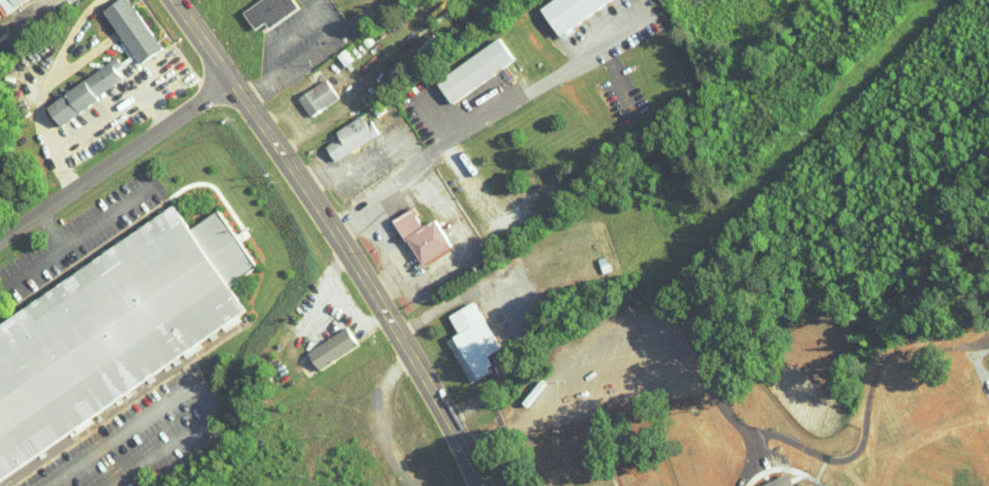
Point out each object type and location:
building: (9, 4)
building: (268, 12)
building: (567, 12)
building: (131, 30)
road: (313, 55)
building: (473, 71)
road: (549, 82)
road: (46, 91)
building: (84, 92)
building: (316, 98)
building: (349, 138)
road: (115, 163)
road: (312, 168)
road: (384, 181)
road: (476, 188)
road: (93, 225)
road: (454, 226)
building: (420, 235)
road: (336, 238)
road: (381, 238)
road: (37, 263)
road: (393, 284)
building: (112, 329)
building: (470, 340)
building: (330, 347)
building: (567, 453)

